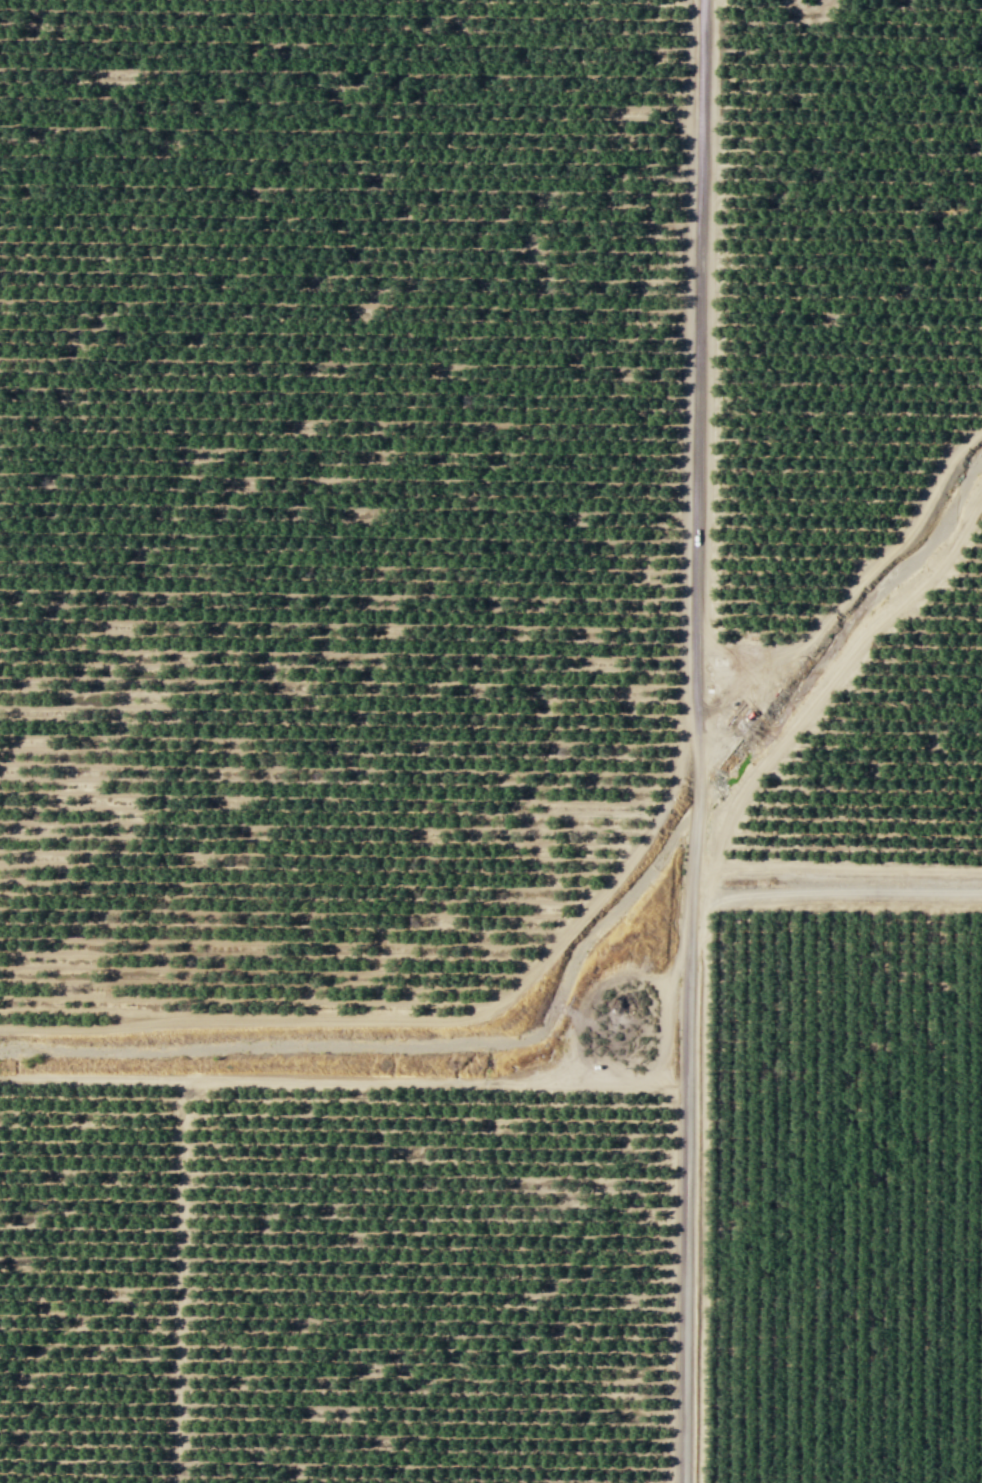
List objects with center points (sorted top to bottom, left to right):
road: (710, 362)
road: (852, 589)
road: (695, 741)
road: (846, 868)
road: (842, 890)
road: (704, 944)
road: (420, 1020)
road: (101, 1079)
road: (237, 1079)

